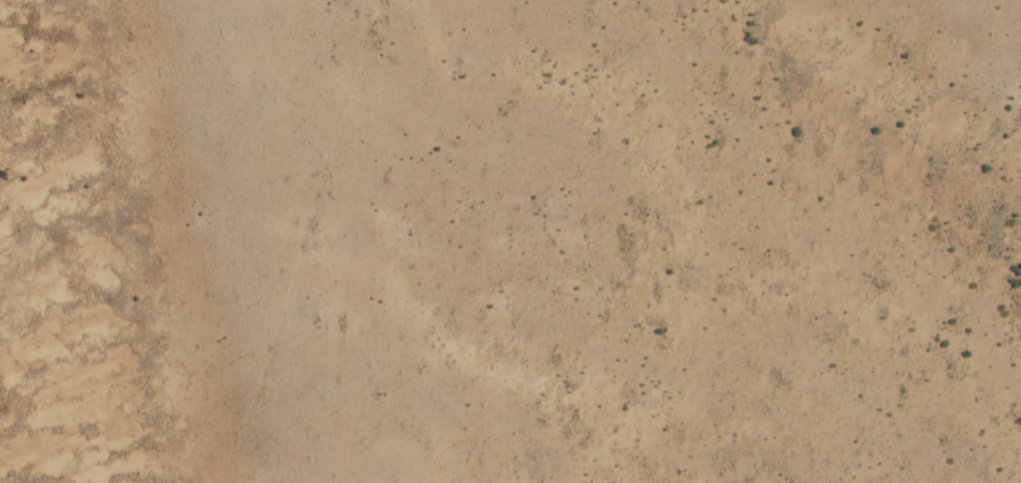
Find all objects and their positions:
road: (290, 236)

